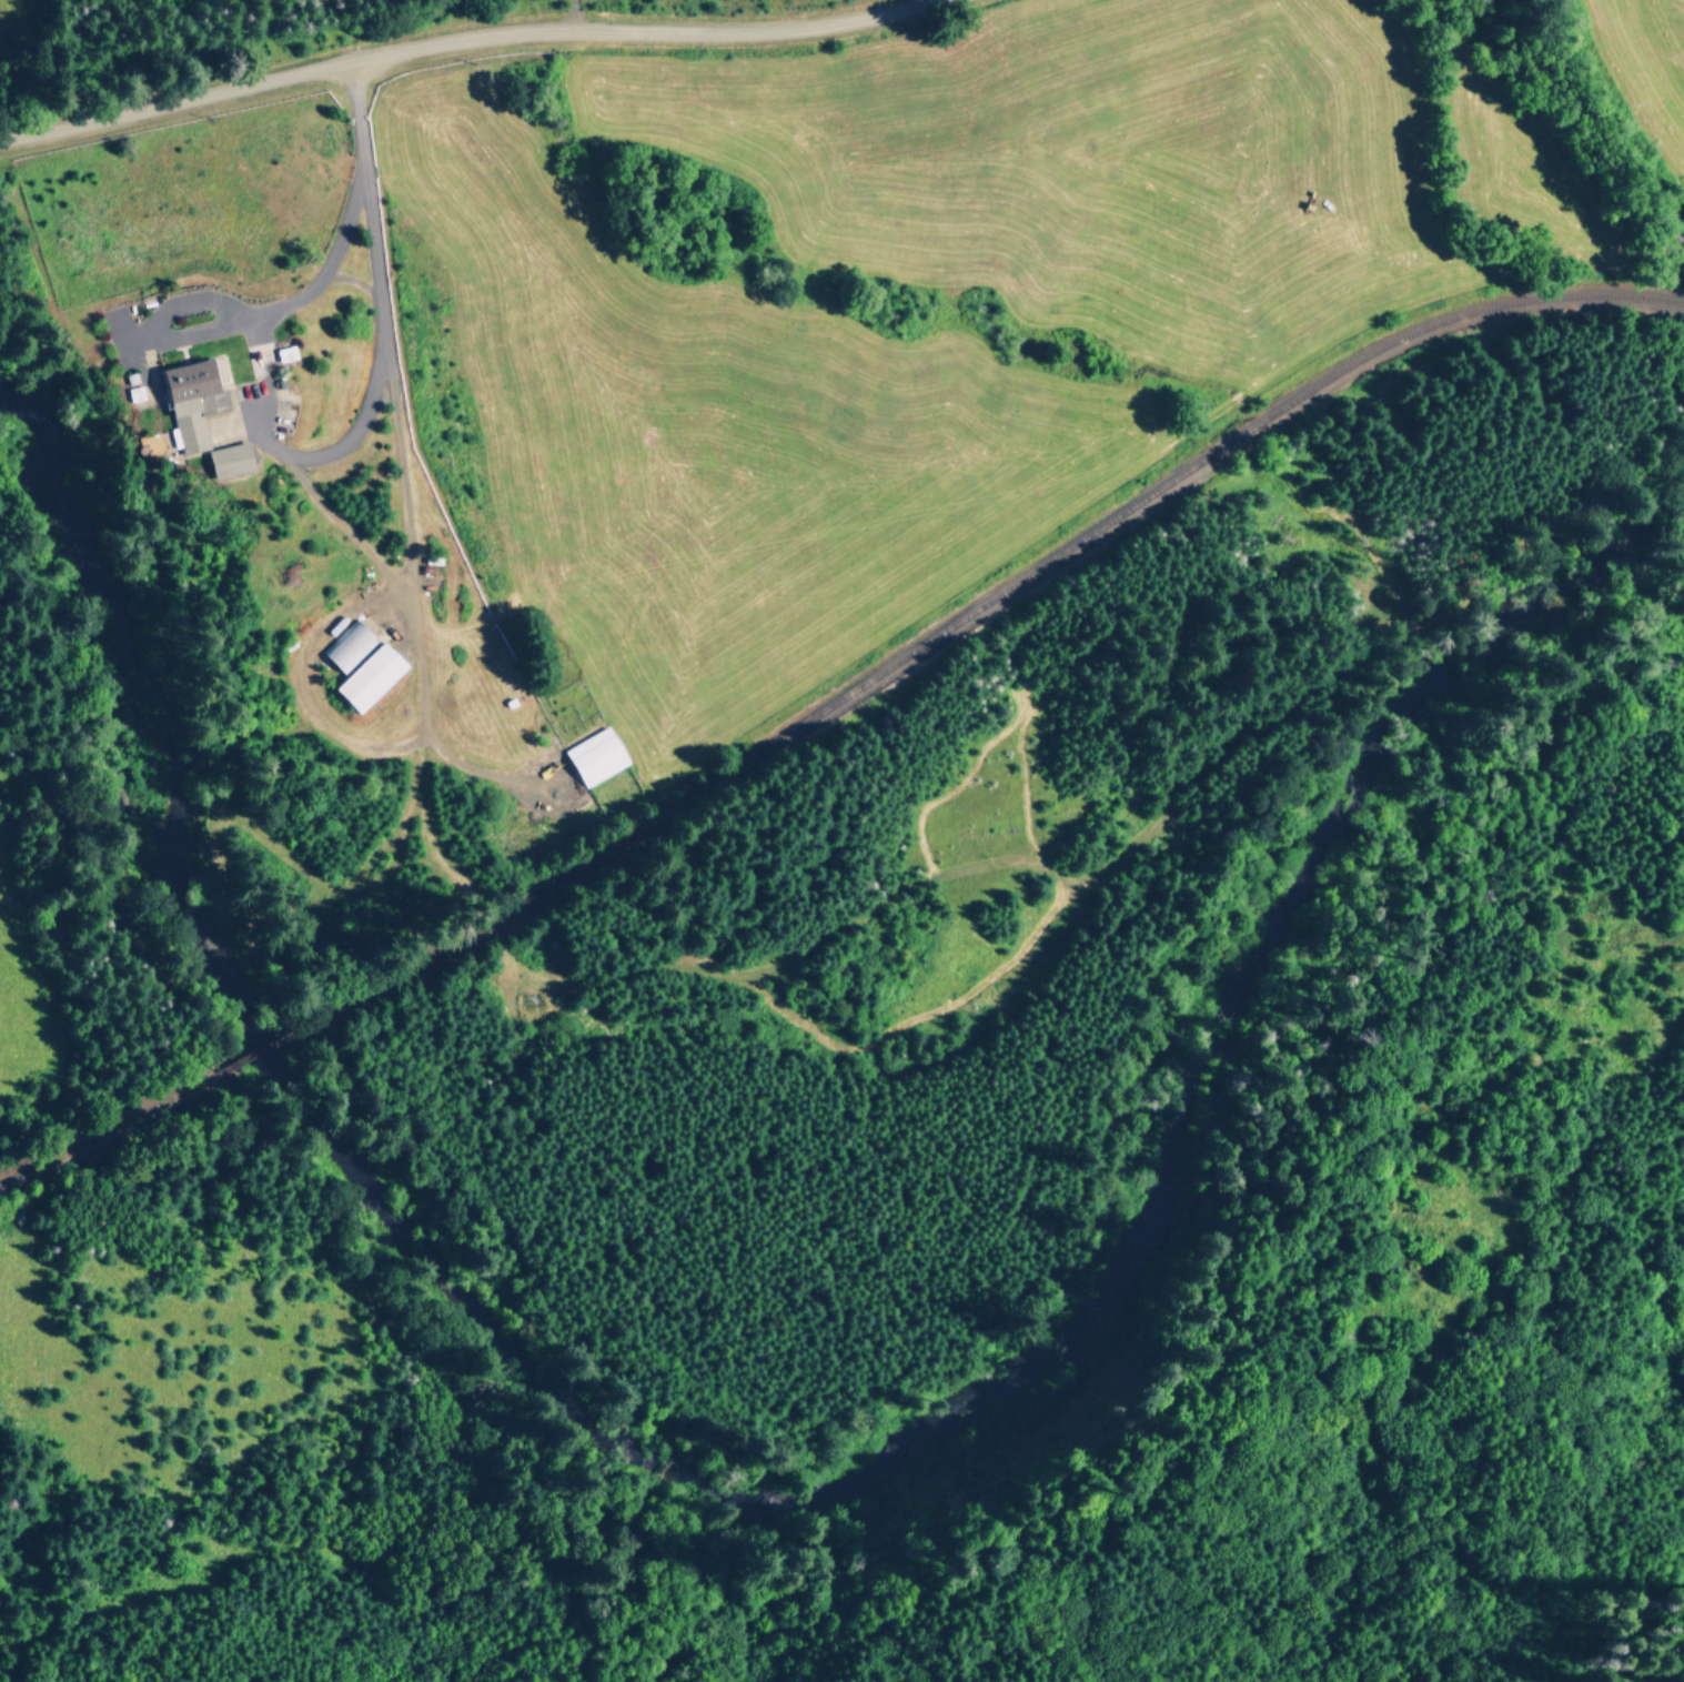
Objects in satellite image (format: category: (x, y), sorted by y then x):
road: (466, 38)
building: (209, 399)
railway: (986, 598)
building: (349, 644)
building: (376, 675)
building: (592, 755)
railway: (282, 1048)
railway: (117, 1131)
river: (790, 1501)

